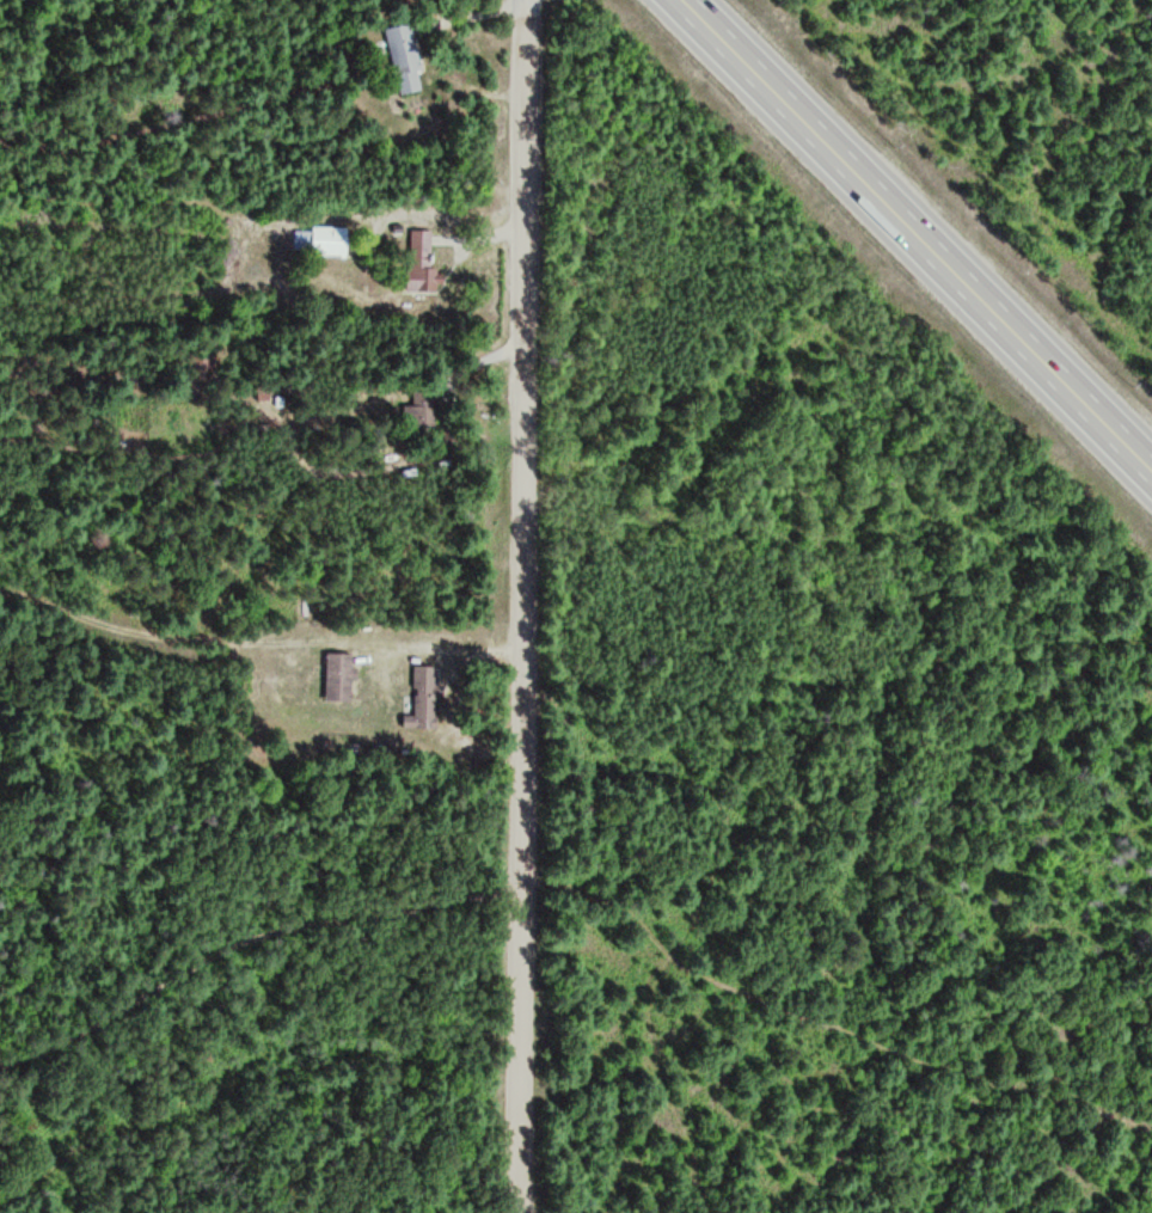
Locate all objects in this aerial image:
building: (406, 59)
road: (915, 237)
building: (323, 240)
building: (424, 264)
building: (424, 408)
road: (523, 446)
building: (342, 675)
building: (424, 698)
road: (246, 937)
road: (829, 1018)
road: (519, 1052)
road: (250, 1082)

